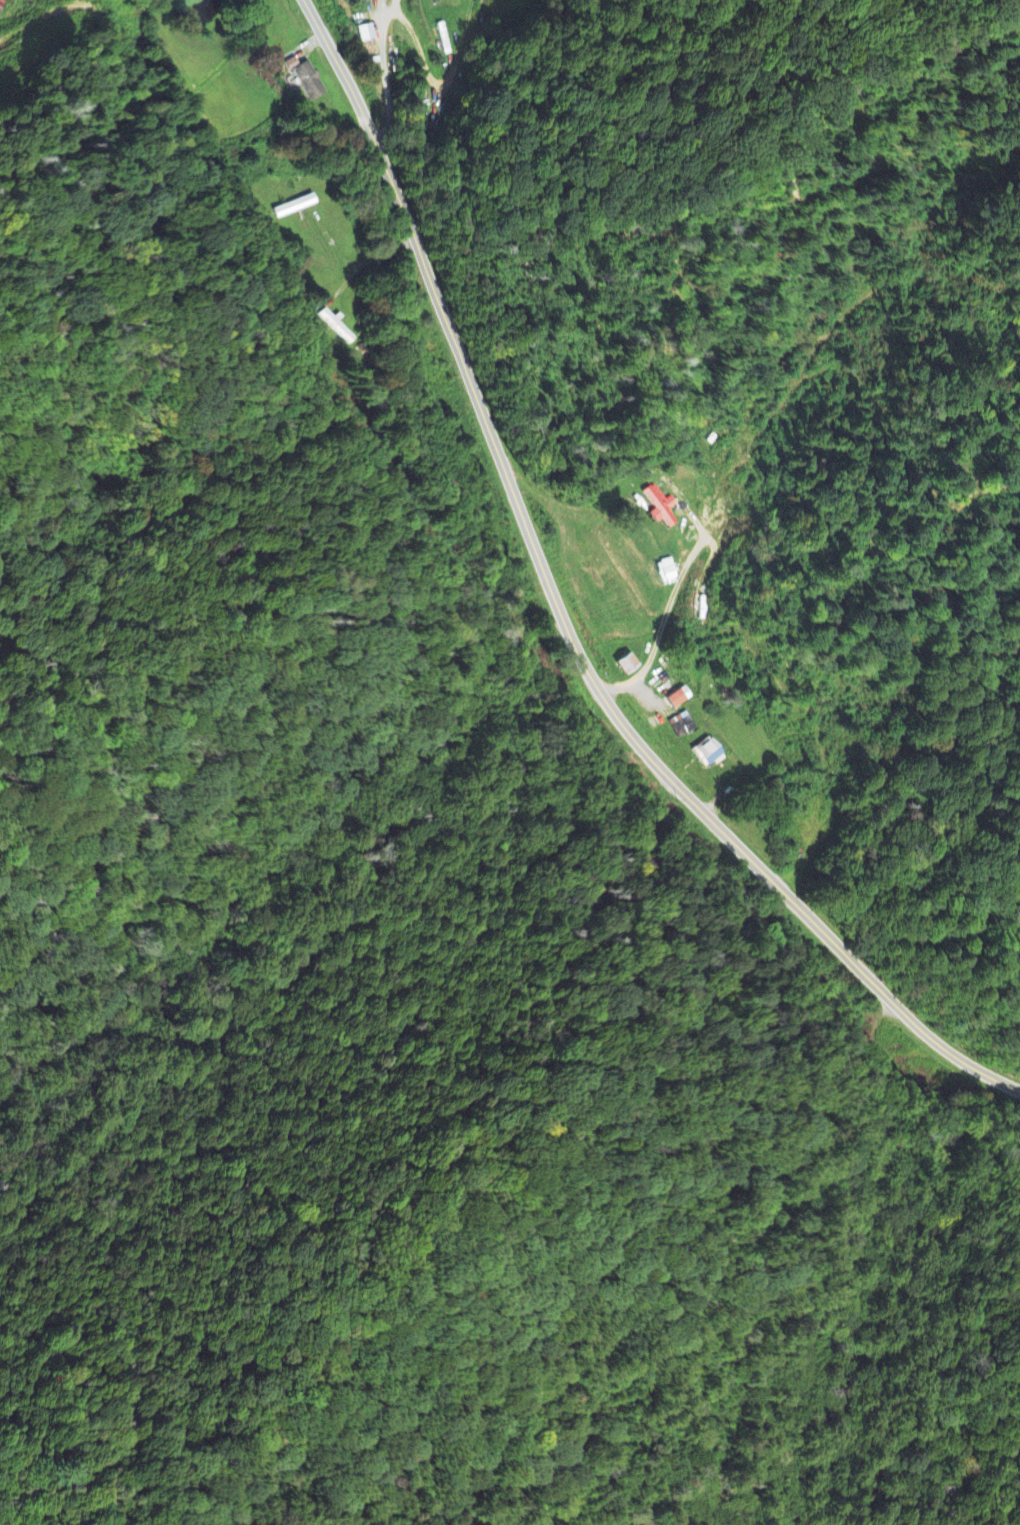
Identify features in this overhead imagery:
road: (451, 336)
road: (793, 897)
road: (325, 928)
road: (1019, 1089)
road: (3, 1490)

